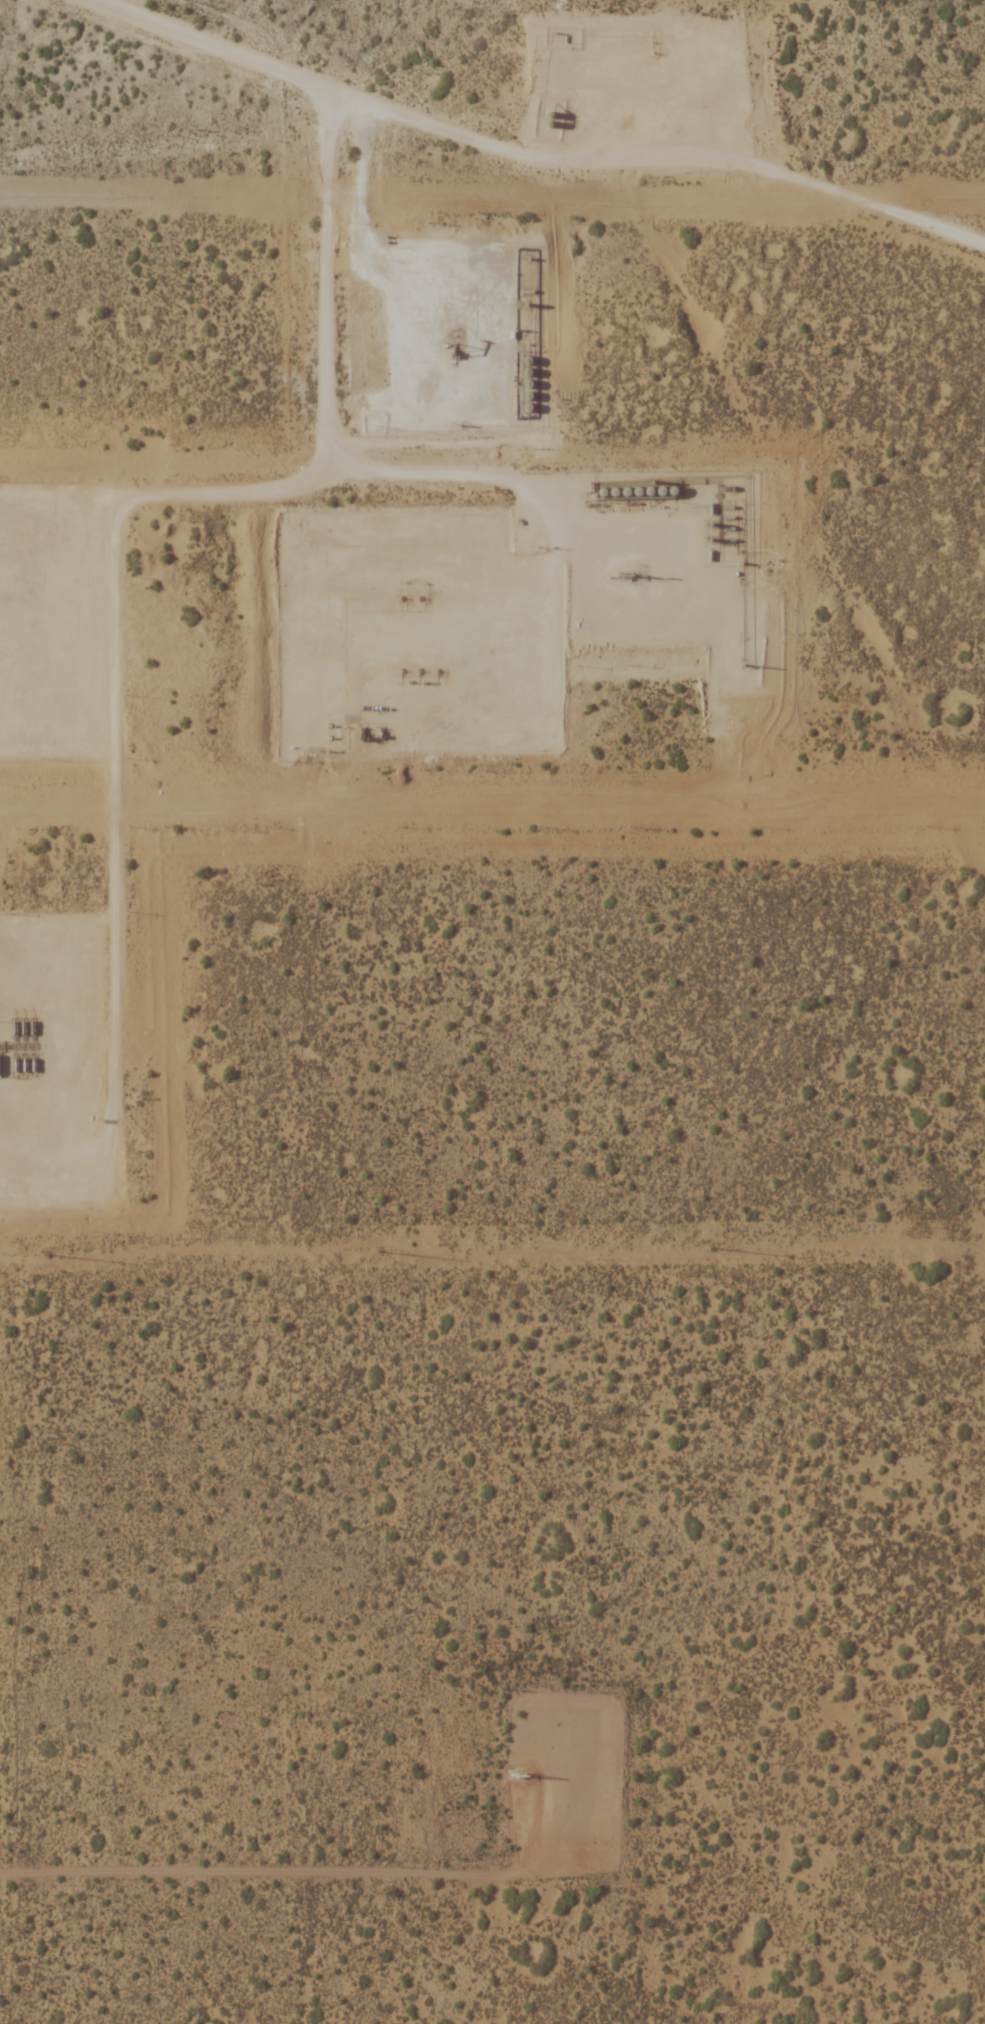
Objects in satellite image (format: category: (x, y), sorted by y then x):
road: (318, 88)
road: (771, 149)
petroleum well: (452, 347)
petroleum well: (621, 572)
road: (111, 596)
petroleum well: (403, 599)
petroleum well: (421, 599)
petroleum well: (403, 672)
petroleum well: (422, 672)
petroleum well: (440, 672)
petroleum well: (517, 1774)
road: (353, 1867)

